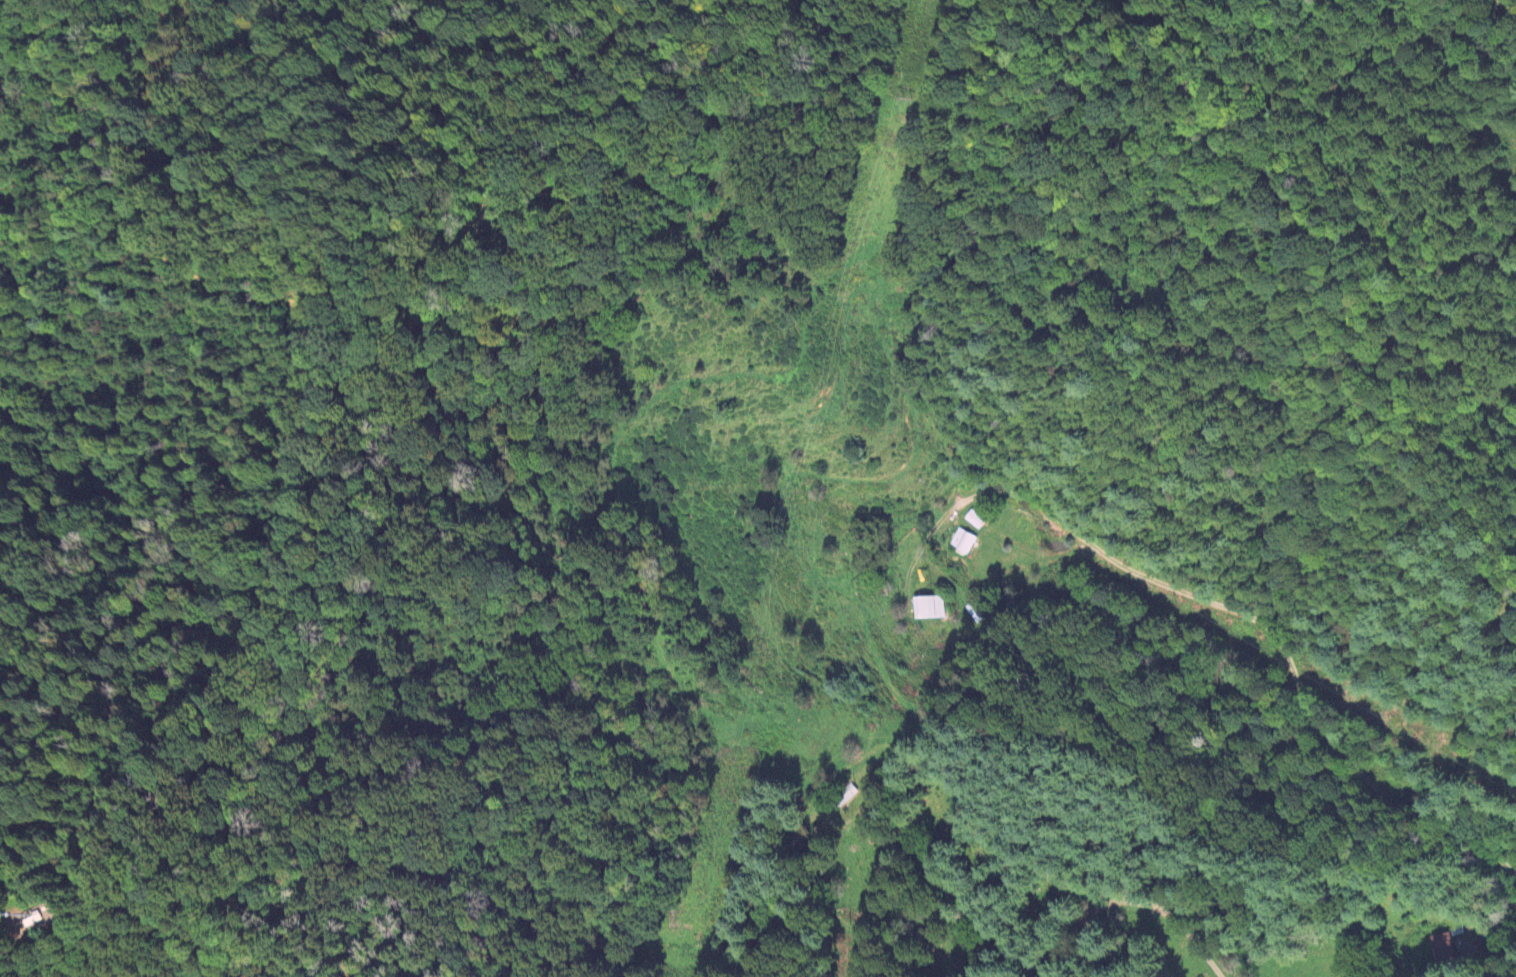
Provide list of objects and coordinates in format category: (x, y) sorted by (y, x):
road: (1428, 210)
building: (974, 519)
building: (963, 542)
building: (928, 607)
building: (844, 797)
road: (1130, 902)
road: (6, 937)
building: (1452, 946)
road: (1482, 963)

